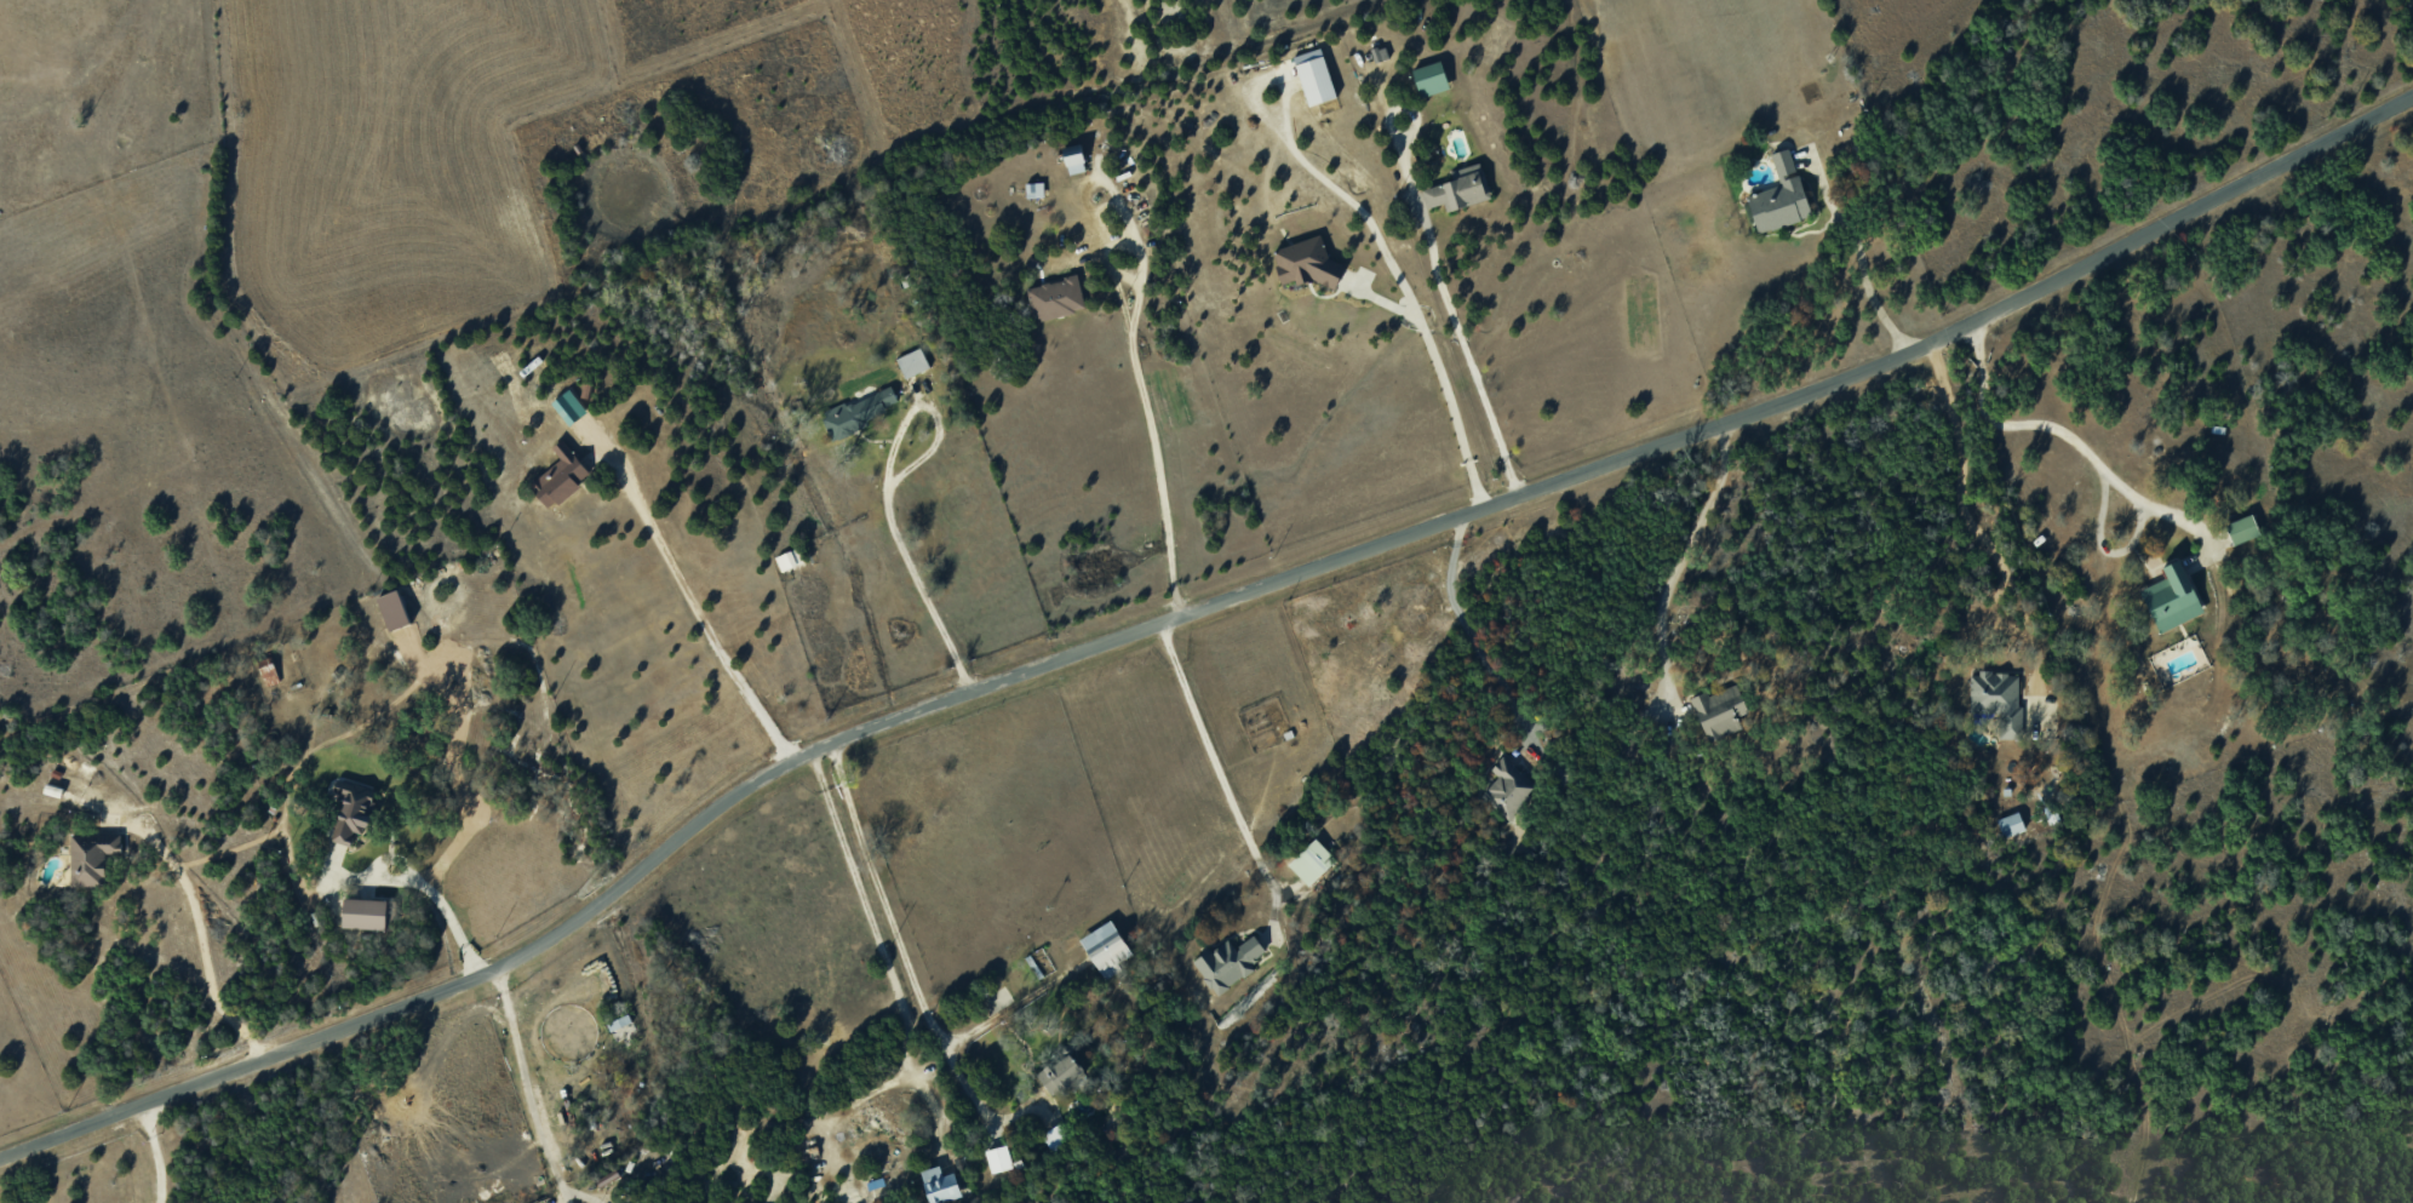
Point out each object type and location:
building: (1314, 76)
building: (1431, 78)
building: (1074, 159)
road: (1316, 168)
building: (1460, 188)
building: (1034, 189)
building: (1779, 196)
road: (1853, 247)
building: (1305, 262)
building: (1056, 297)
road: (1466, 348)
building: (913, 362)
road: (1442, 374)
building: (861, 409)
road: (1153, 437)
road: (2093, 456)
building: (561, 475)
road: (888, 493)
road: (1976, 523)
building: (2242, 528)
road: (1683, 557)
building: (789, 558)
building: (2171, 597)
road: (694, 606)
building: (394, 609)
road: (1194, 611)
road: (1468, 629)
building: (269, 670)
building: (1999, 701)
building: (1719, 711)
road: (1220, 779)
building: (1508, 789)
building: (351, 812)
building: (2011, 824)
building: (92, 857)
building: (1312, 861)
road: (417, 881)
building: (368, 912)
road: (202, 935)
road: (881, 945)
building: (1107, 947)
road: (906, 959)
building: (1228, 962)
building: (619, 1022)
building: (1061, 1072)
road: (531, 1085)
building: (1056, 1136)
road: (155, 1152)
building: (998, 1158)
building: (940, 1184)

